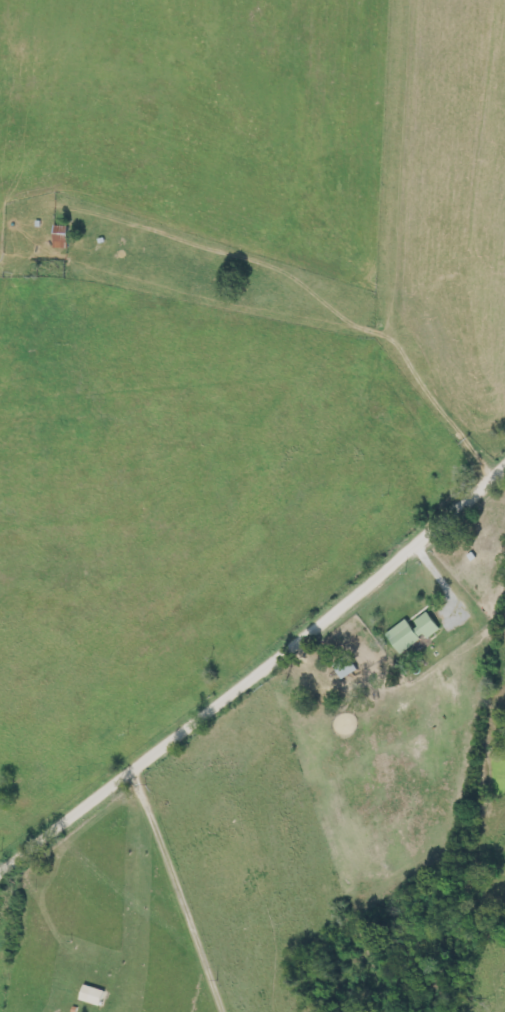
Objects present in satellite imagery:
building: (61, 238)
building: (414, 632)
building: (346, 668)
road: (255, 678)
building: (93, 996)

